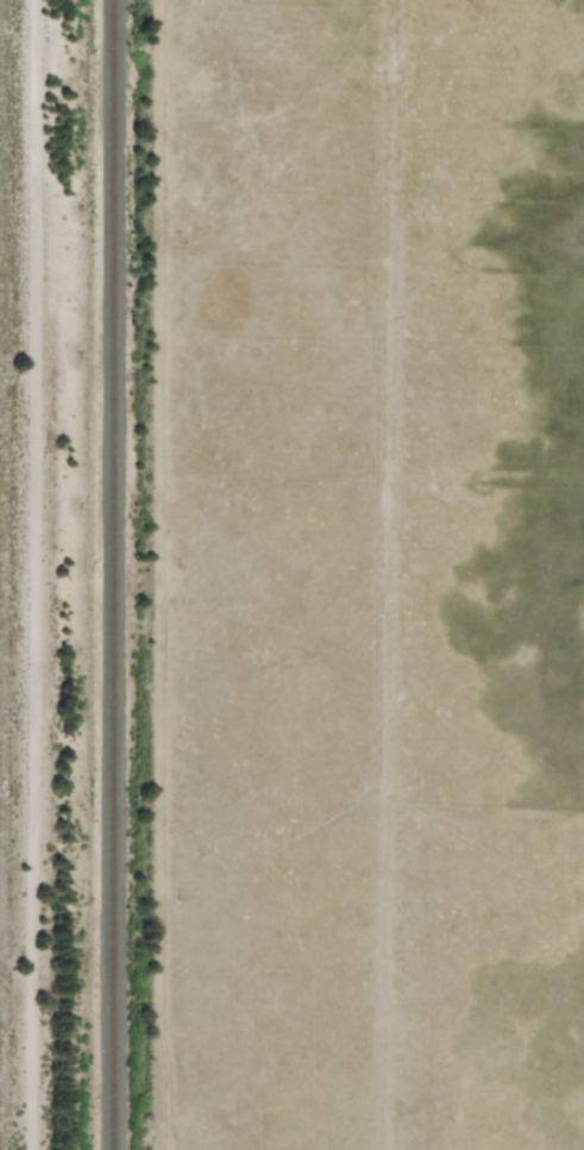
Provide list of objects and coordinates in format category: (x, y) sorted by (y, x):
road: (30, 575)
railway: (108, 575)

